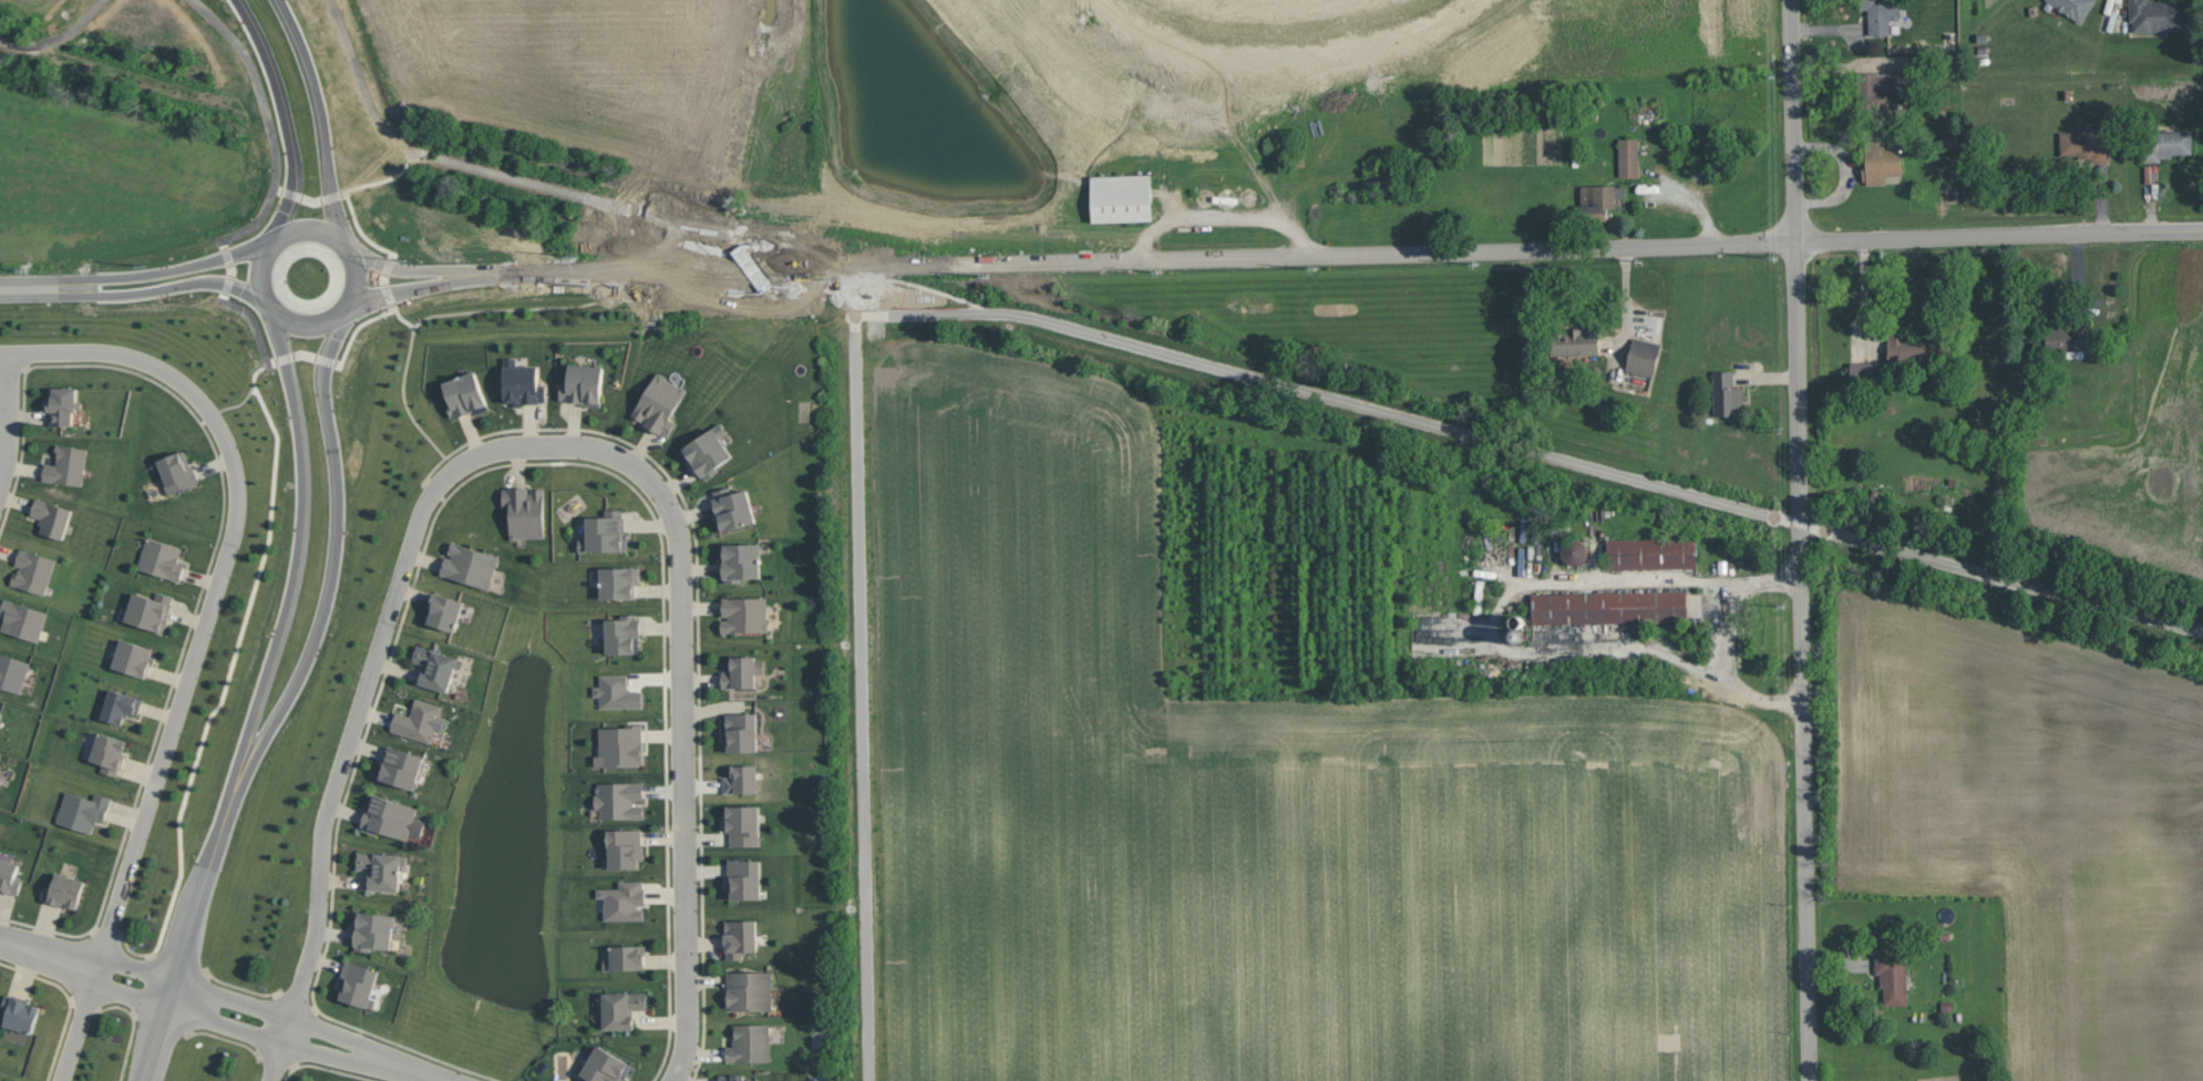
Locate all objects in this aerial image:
building: (2073, 7)
building: (1881, 14)
building: (2159, 16)
road: (54, 38)
road: (597, 42)
road: (1289, 63)
building: (1883, 82)
road: (321, 115)
road: (288, 116)
road: (1793, 121)
building: (2166, 144)
building: (2083, 145)
building: (1628, 157)
road: (1303, 161)
building: (1880, 162)
road: (515, 177)
road: (275, 184)
building: (1121, 198)
building: (1599, 199)
road: (1334, 257)
road: (261, 261)
road: (179, 264)
road: (408, 266)
road: (175, 281)
road: (412, 282)
road: (44, 284)
road: (557, 306)
road: (794, 308)
road: (943, 311)
building: (2068, 337)
building: (1575, 341)
building: (1912, 347)
road: (3, 350)
building: (1865, 371)
building: (522, 383)
building: (584, 384)
building: (1727, 394)
building: (465, 395)
road: (406, 402)
building: (660, 403)
building: (62, 404)
road: (7, 410)
park: (2143, 428)
road: (538, 445)
building: (708, 451)
building: (66, 465)
building: (177, 472)
road: (1616, 473)
building: (732, 508)
building: (525, 511)
building: (52, 517)
building: (606, 532)
building: (1574, 552)
building: (1653, 553)
building: (162, 558)
building: (740, 559)
building: (470, 565)
building: (33, 572)
road: (297, 577)
building: (619, 581)
road: (330, 588)
building: (1609, 606)
building: (150, 610)
building: (444, 611)
building: (744, 614)
building: (22, 619)
road: (1496, 628)
building: (622, 634)
road: (198, 639)
building: (133, 658)
road: (1801, 661)
building: (436, 667)
building: (742, 671)
building: (12, 672)
building: (617, 692)
road: (862, 698)
building: (120, 706)
building: (0, 712)
building: (419, 720)
building: (740, 732)
building: (620, 745)
building: (109, 752)
building: (400, 766)
building: (744, 780)
building: (0, 782)
building: (619, 800)
building: (83, 810)
building: (391, 817)
building: (743, 824)
building: (624, 848)
building: (382, 868)
building: (9, 876)
building: (744, 878)
building: (64, 890)
building: (624, 900)
building: (373, 929)
building: (740, 937)
building: (625, 957)
road: (181, 958)
building: (1893, 979)
building: (358, 984)
building: (749, 990)
building: (620, 1008)
road: (229, 1010)
building: (20, 1013)
building: (749, 1042)
building: (606, 1065)
building: (733, 1078)
building: (1, 1080)

